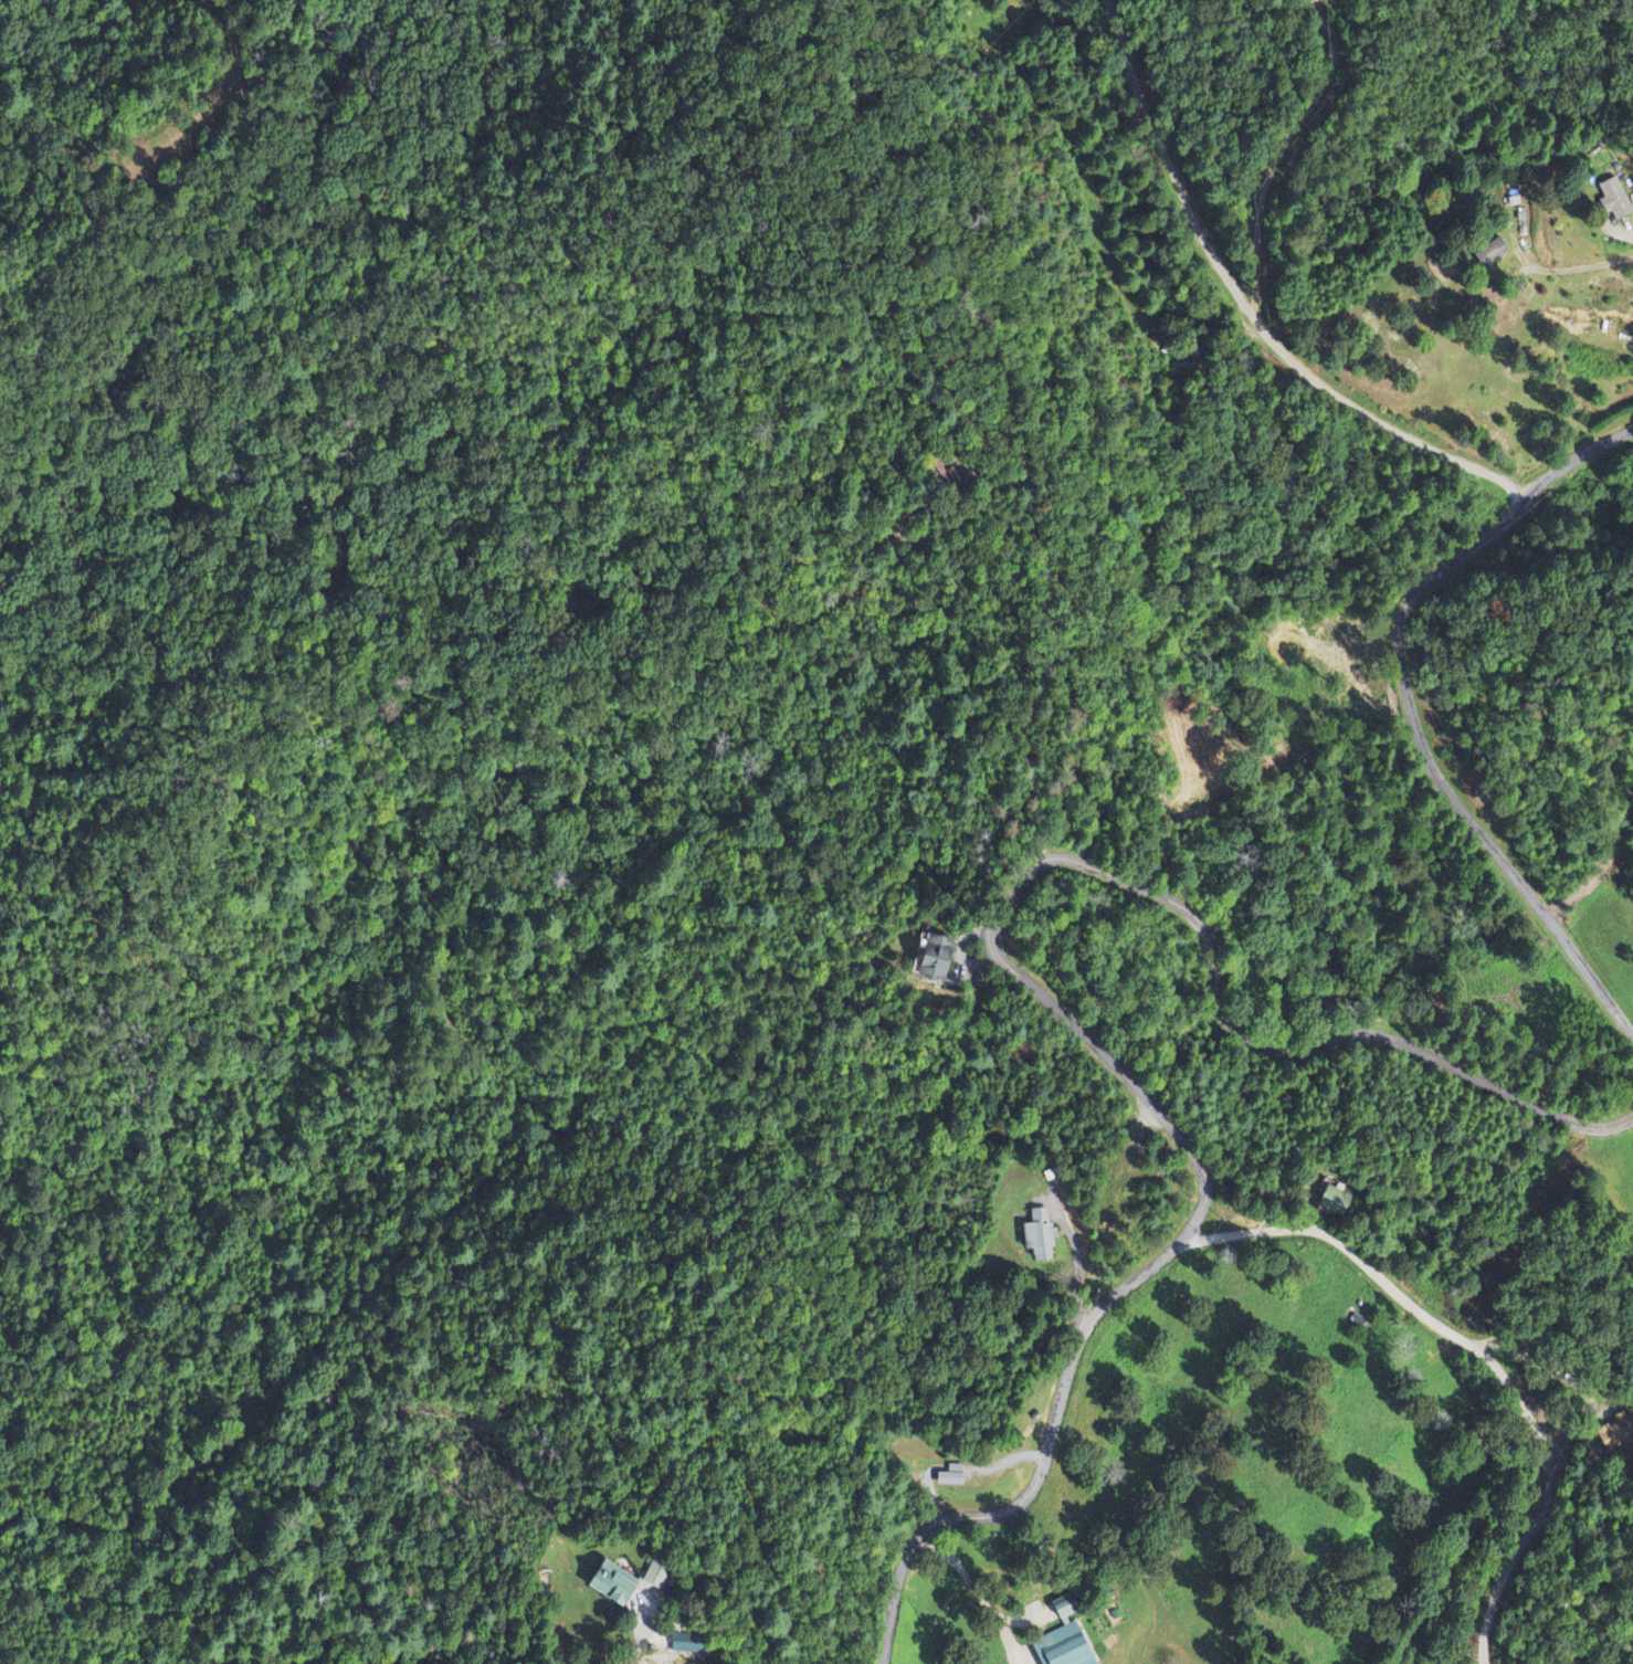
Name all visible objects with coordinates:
road: (1299, 147)
building: (1612, 199)
building: (1489, 252)
road: (1253, 308)
road: (1410, 713)
building: (931, 958)
road: (1070, 1029)
road: (1622, 1050)
building: (1331, 1201)
building: (1036, 1238)
road: (1044, 1468)
building: (655, 1577)
building: (609, 1584)
building: (684, 1645)
building: (1060, 1647)

